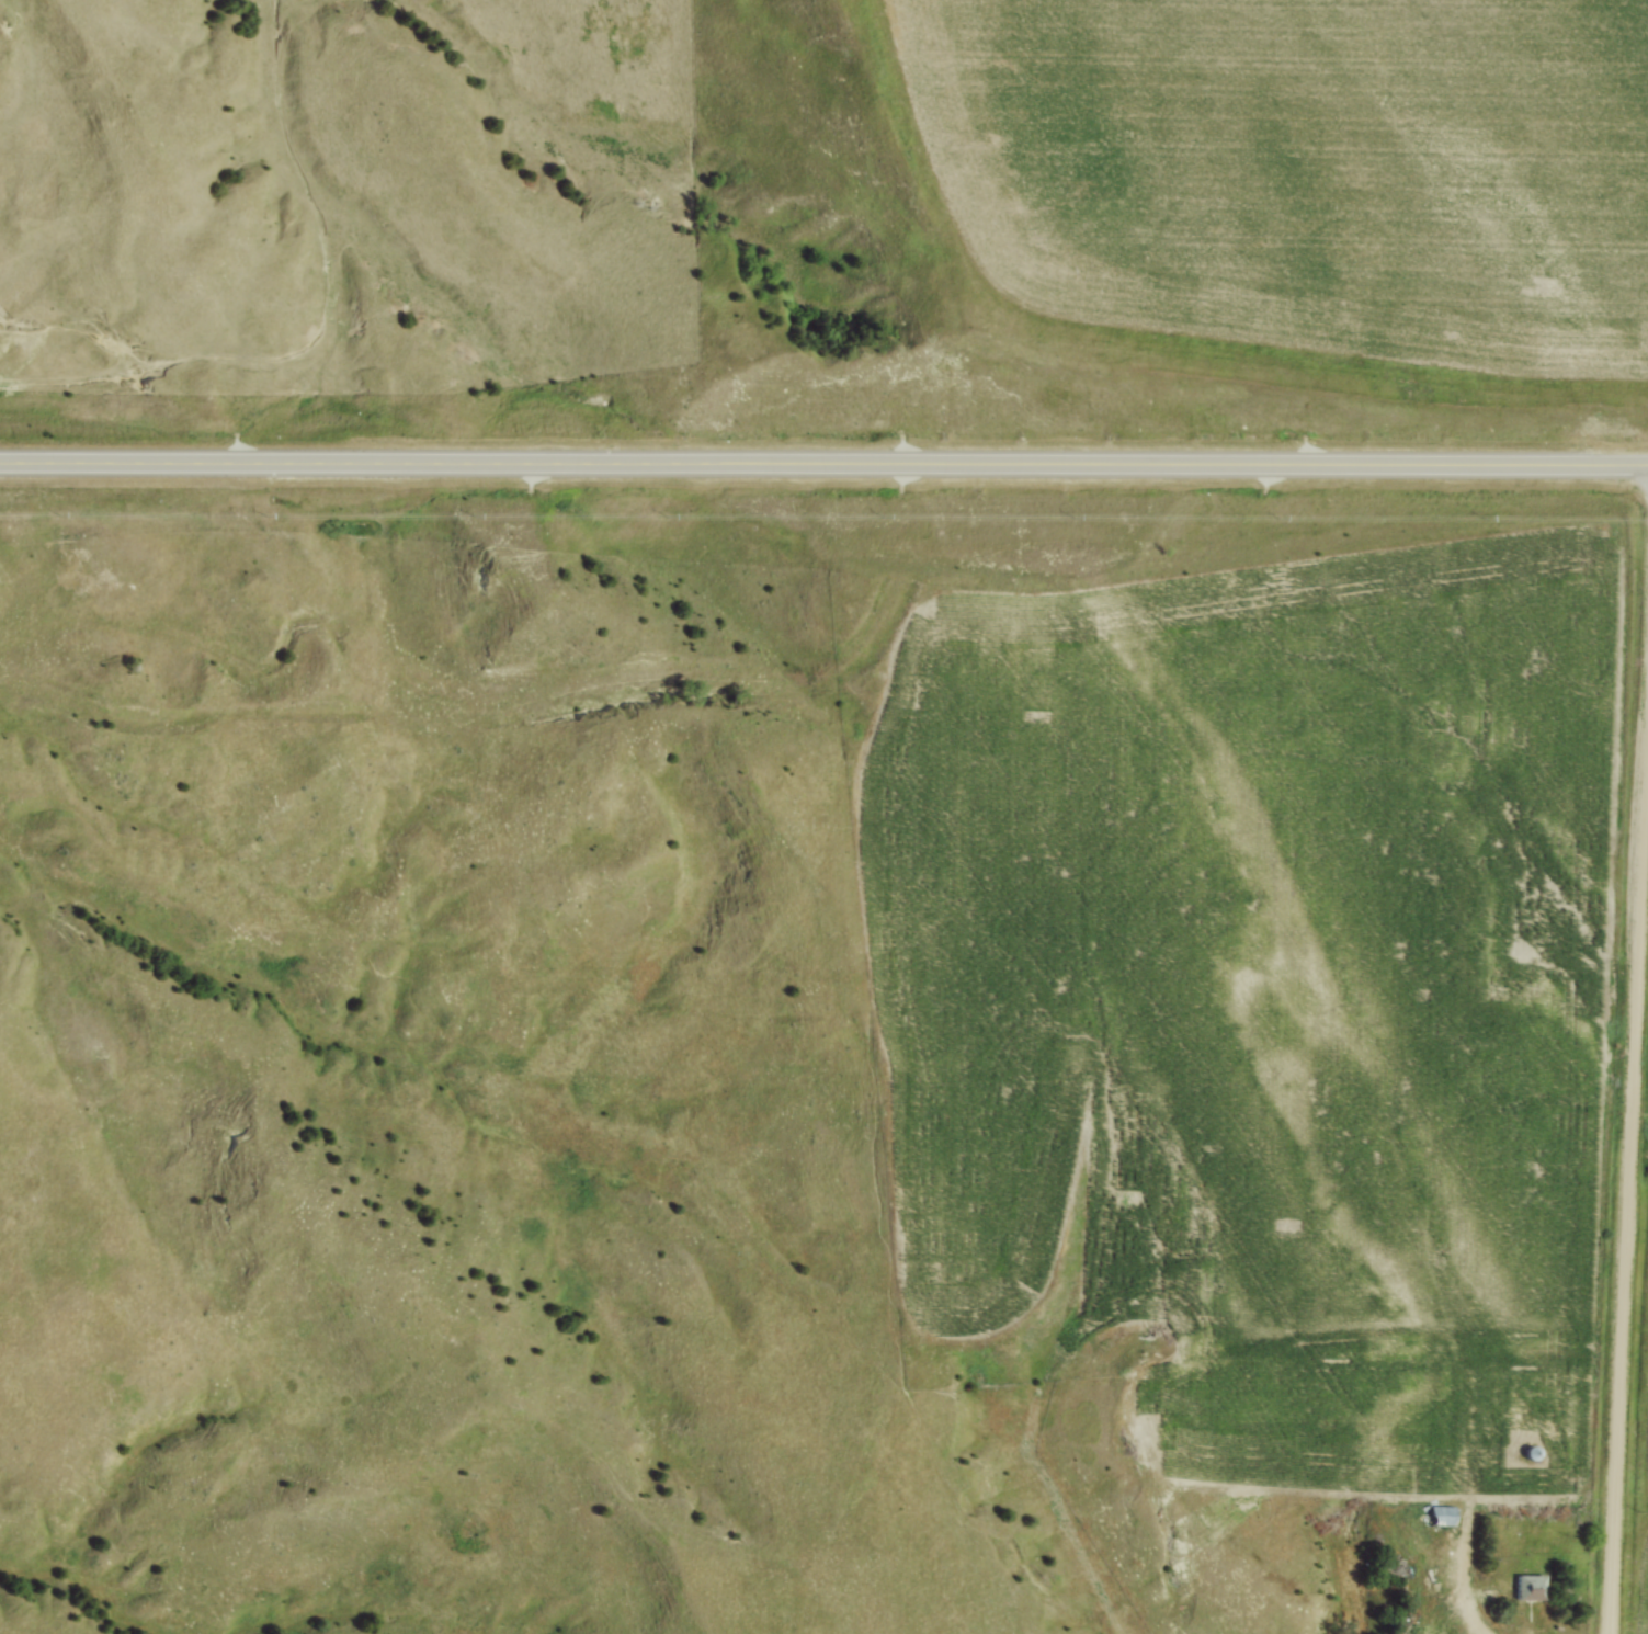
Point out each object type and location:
road: (823, 466)
road: (1627, 1217)
building: (1441, 1519)
road: (1459, 1590)
building: (1528, 1591)

